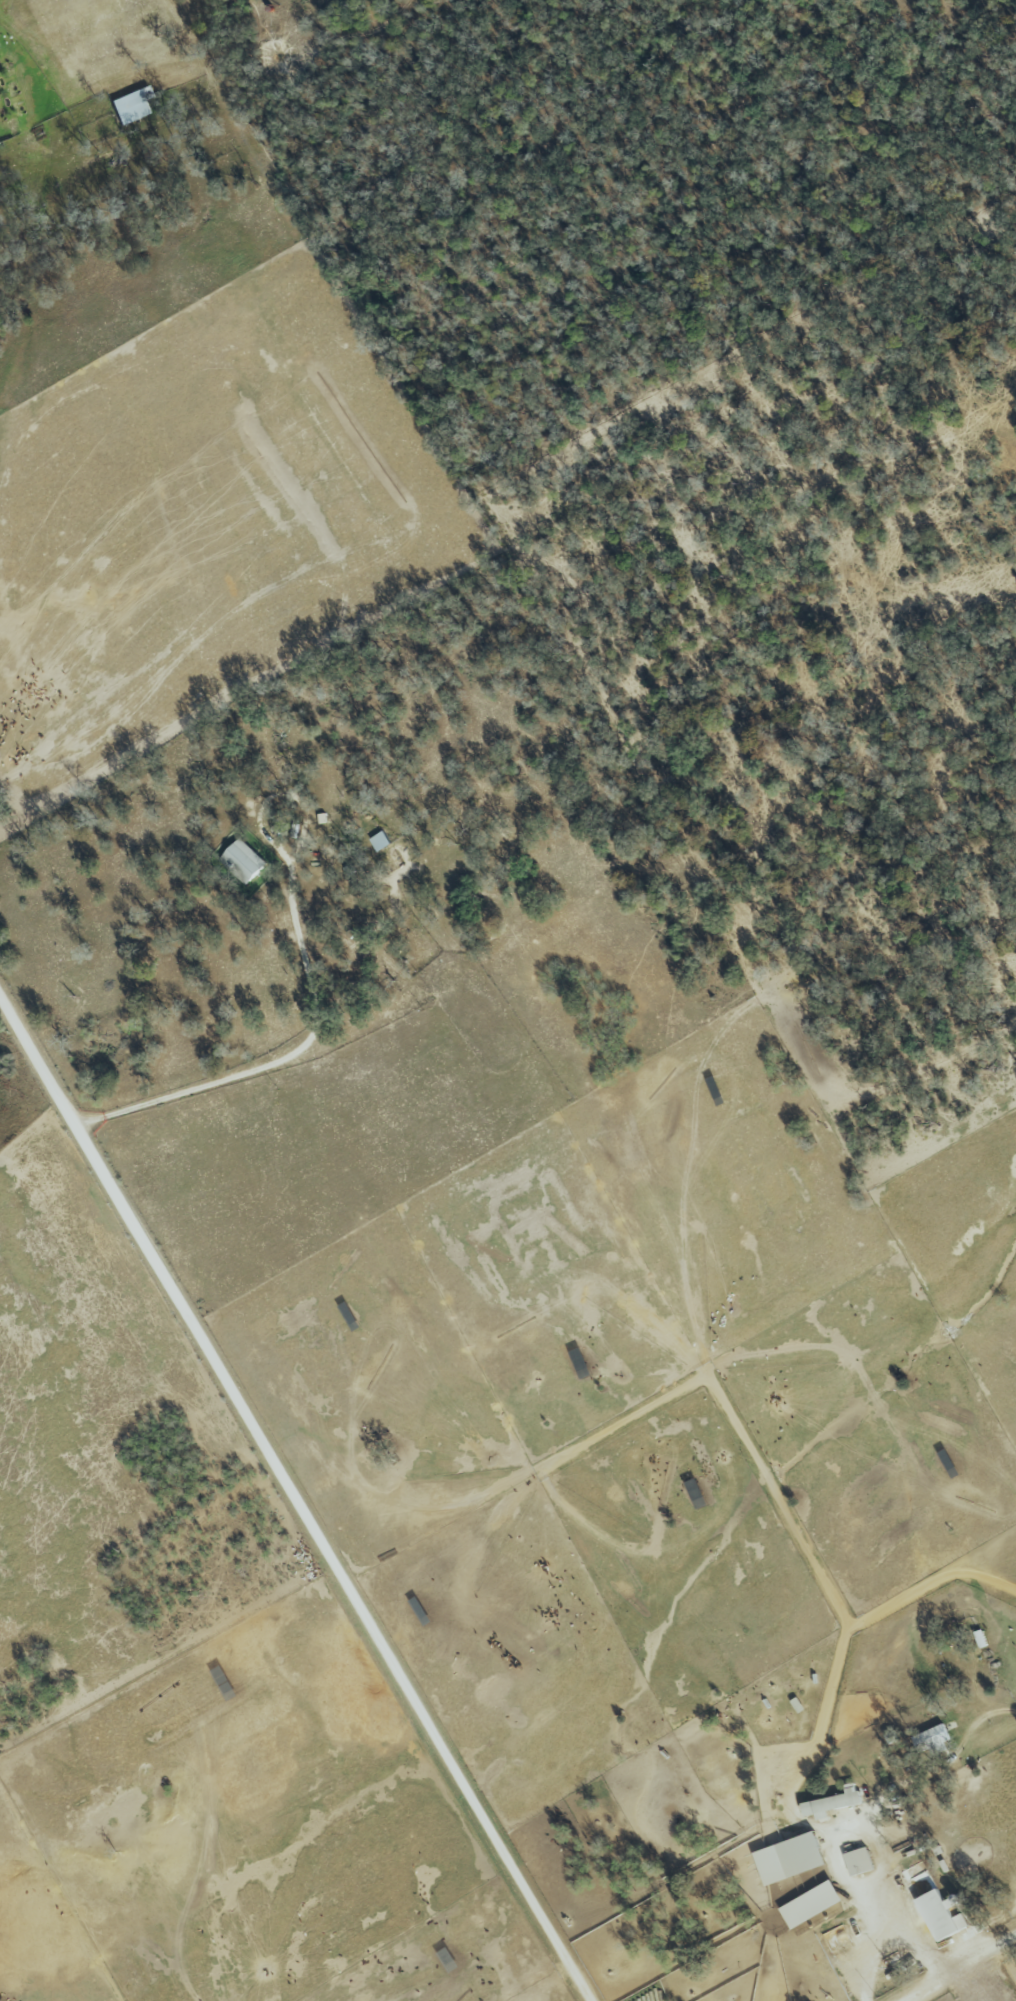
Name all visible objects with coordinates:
building: (126, 105)
building: (378, 841)
building: (240, 860)
road: (299, 1049)
road: (299, 1491)
building: (978, 1639)
road: (987, 1716)
building: (929, 1739)
building: (826, 1805)
road: (846, 1829)
building: (786, 1859)
building: (807, 1905)
building: (936, 1916)
road: (892, 1947)
road: (959, 1968)

